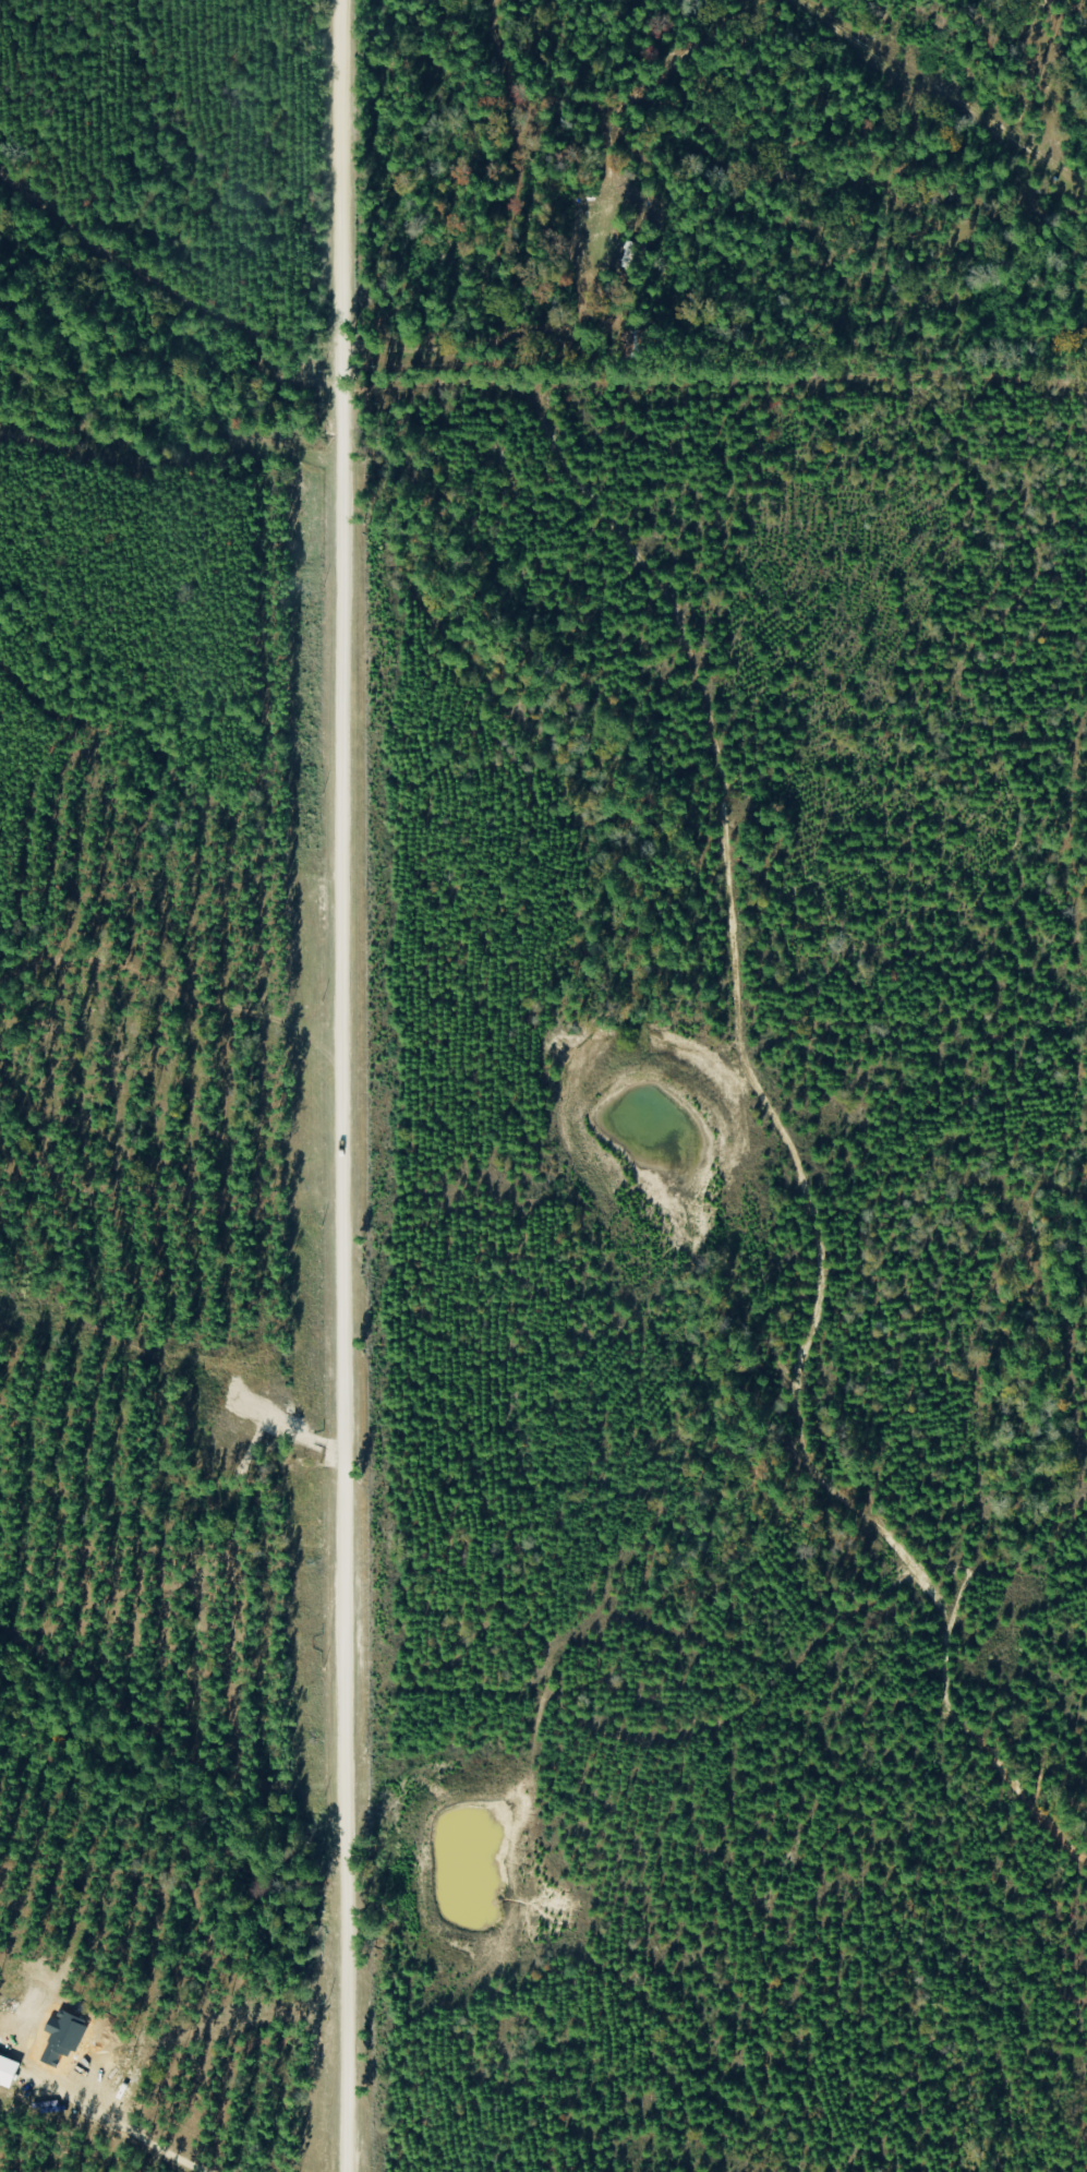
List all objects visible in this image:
building: (628, 253)
road: (336, 1085)
road: (774, 1397)

